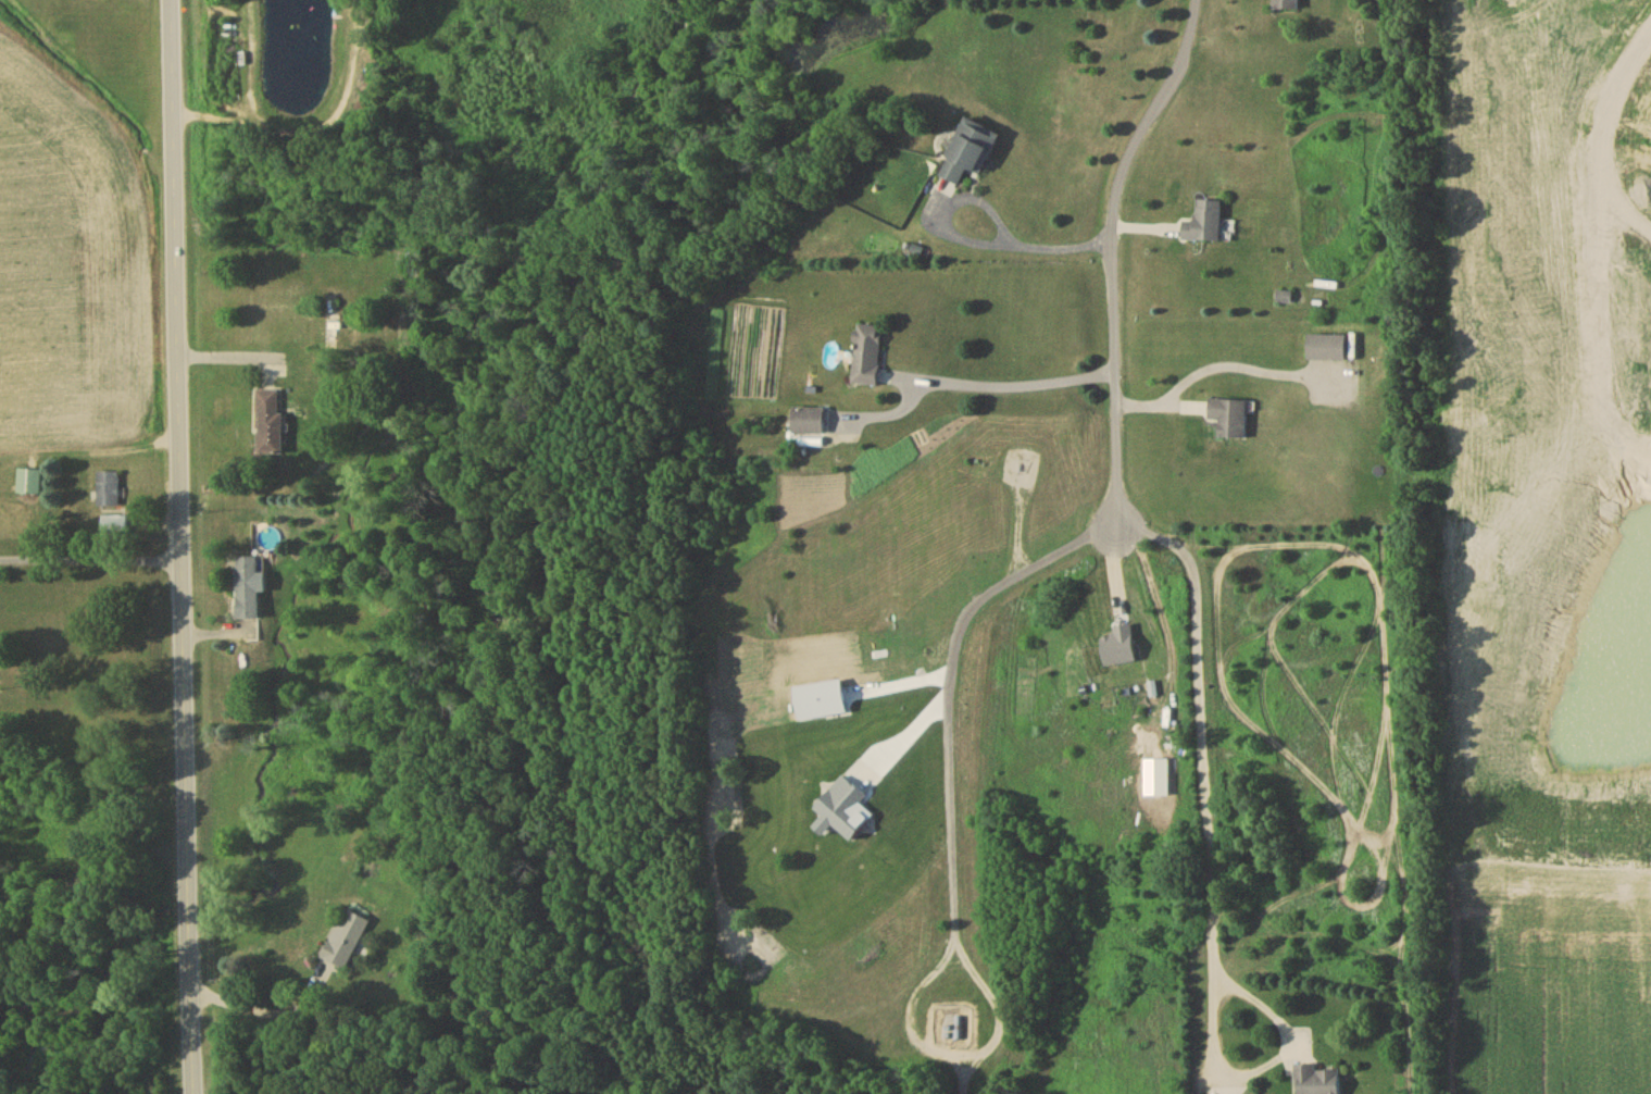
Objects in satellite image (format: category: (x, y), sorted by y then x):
building: (1286, 7)
building: (970, 153)
building: (1204, 226)
road: (1038, 248)
road: (1113, 259)
building: (1326, 349)
road: (1212, 353)
building: (867, 357)
road: (1003, 387)
building: (1228, 419)
building: (808, 423)
building: (268, 424)
building: (28, 484)
building: (108, 490)
building: (114, 526)
road: (180, 546)
road: (90, 559)
building: (248, 589)
road: (1204, 731)
road: (950, 781)
building: (345, 942)
road: (260, 1012)
building: (961, 1030)
road: (1284, 1031)
road: (1214, 1037)
building: (1315, 1081)

